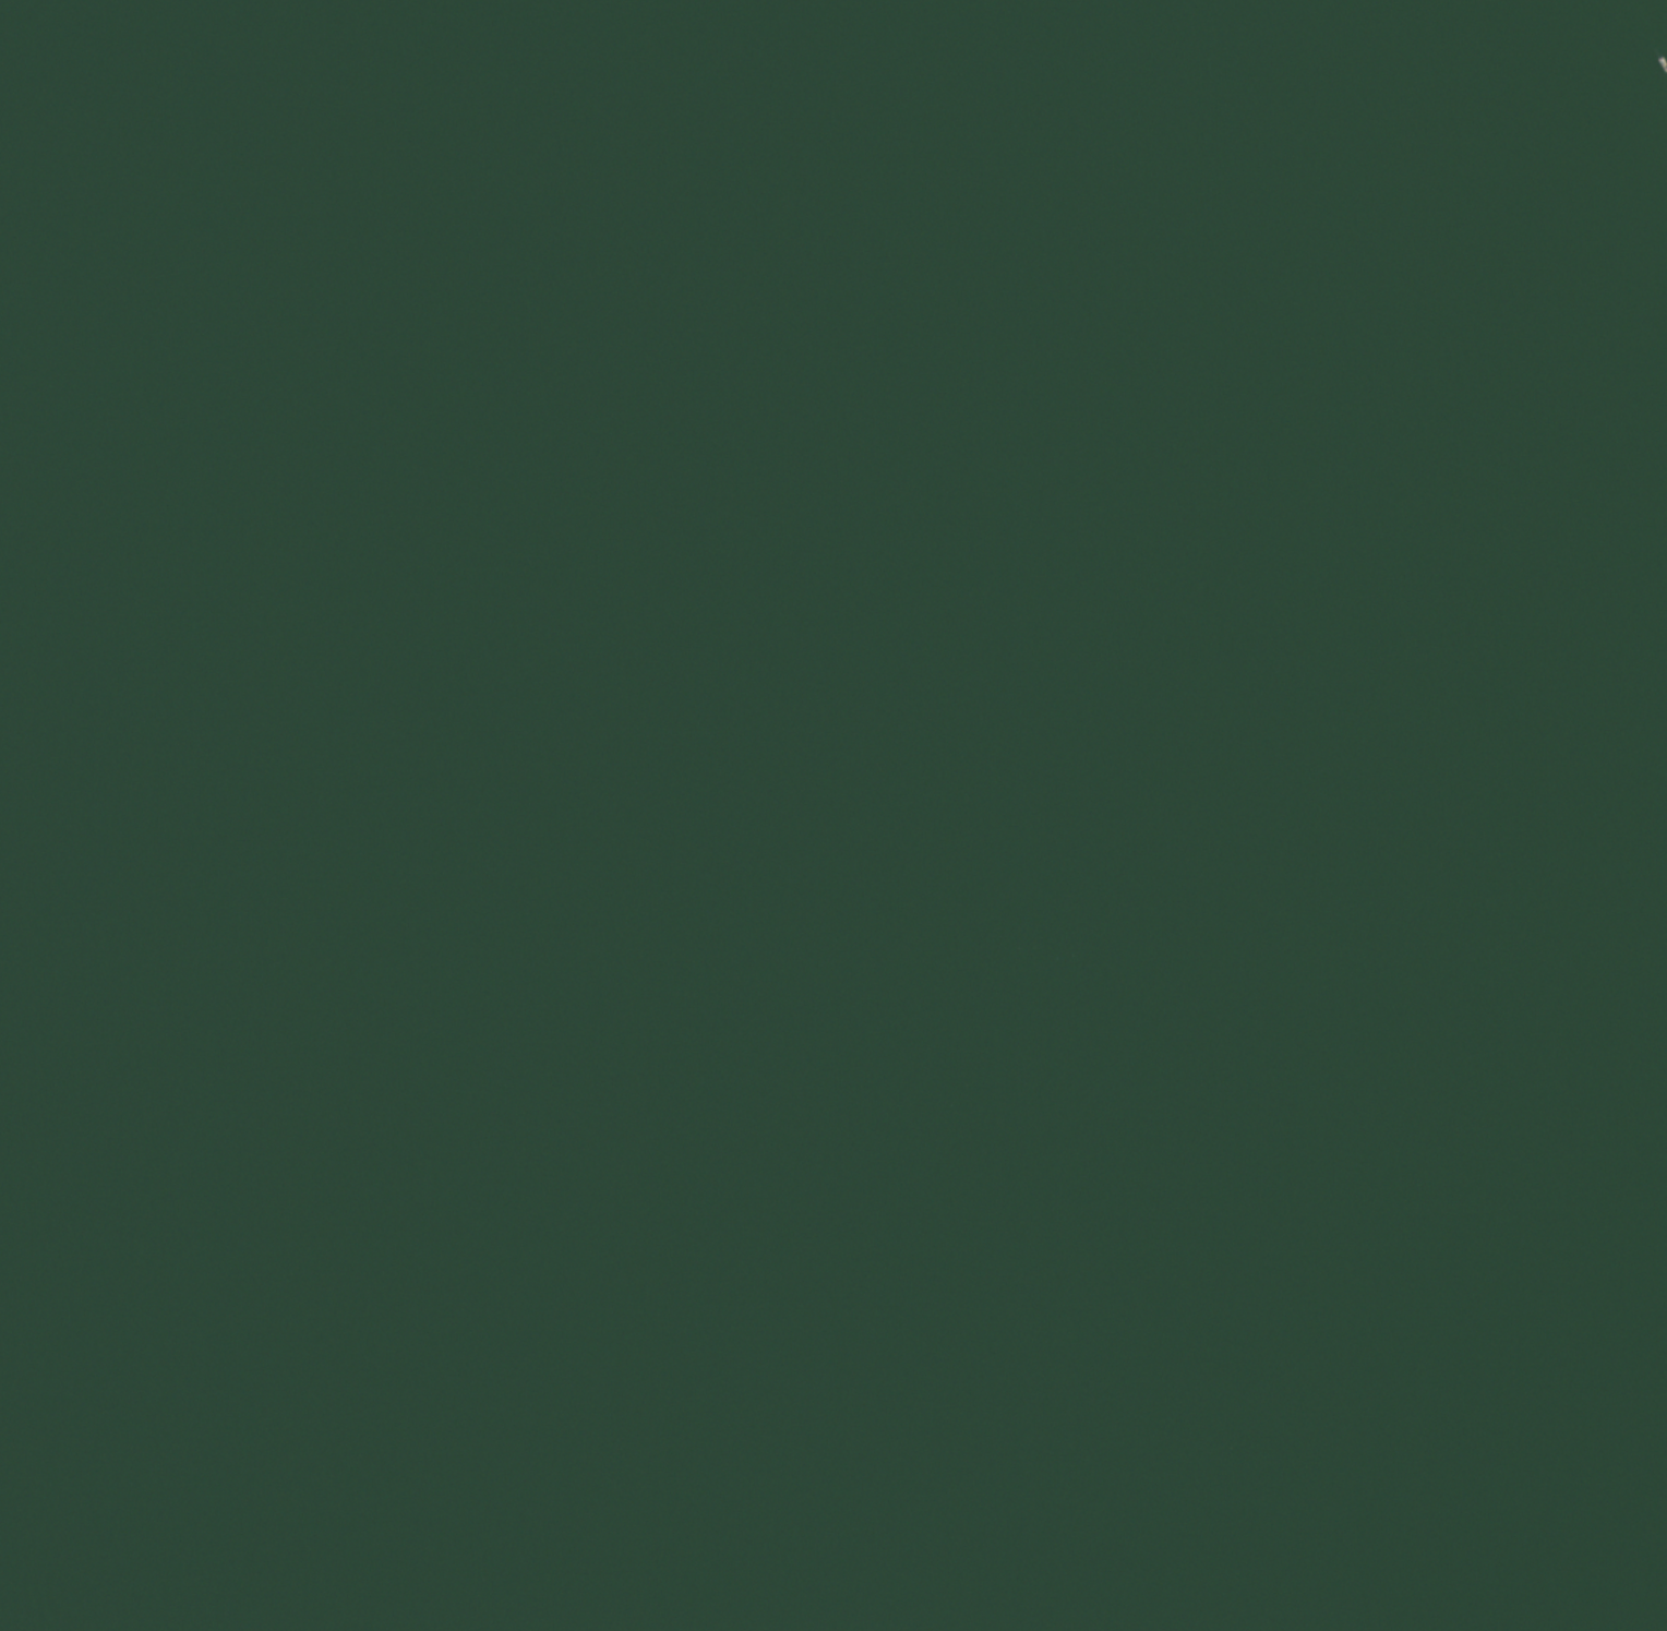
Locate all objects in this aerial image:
river: (83, 1113)

